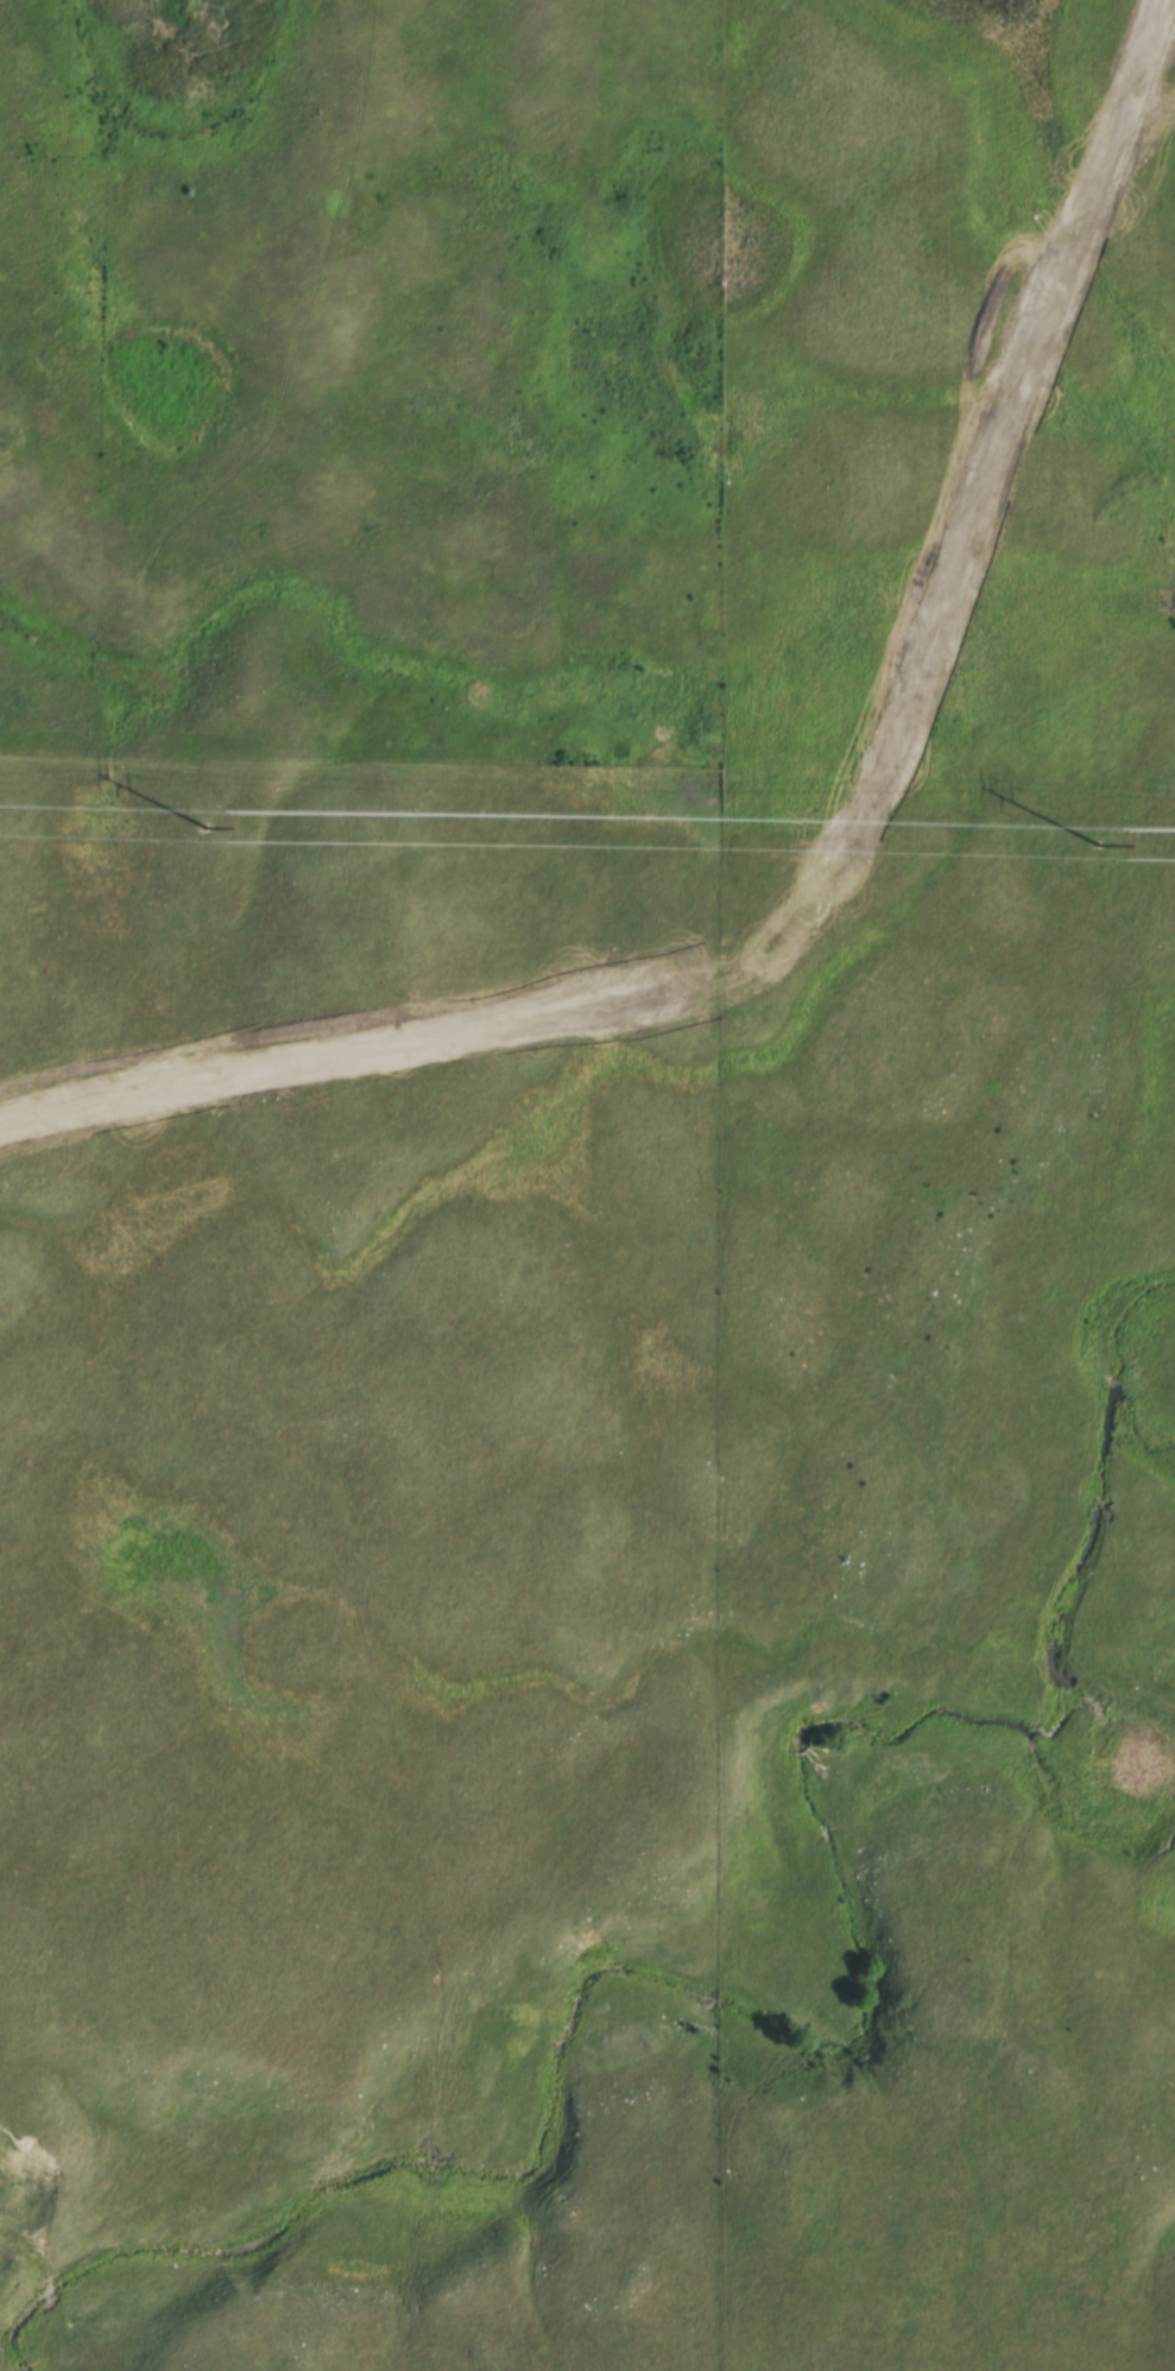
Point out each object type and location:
power tower: (209, 832)
power tower: (1100, 842)
river: (1136, 1776)

